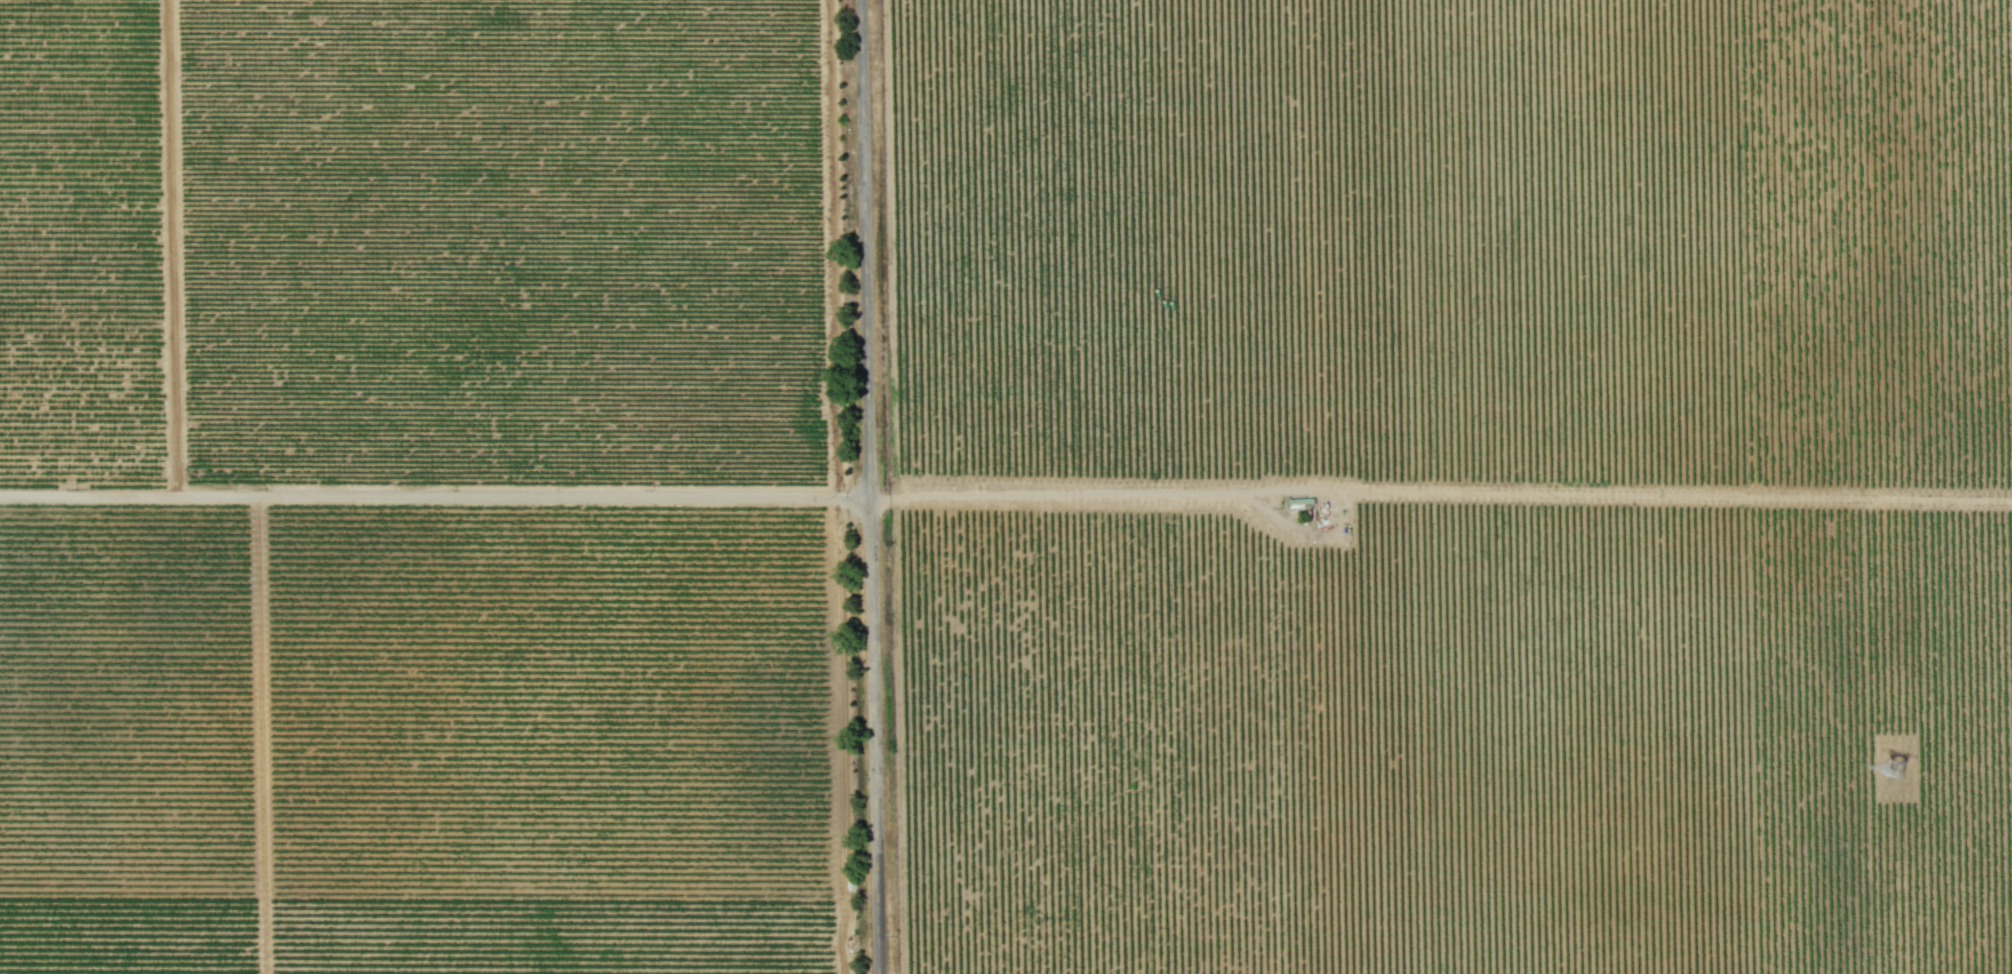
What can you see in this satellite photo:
road: (171, 248)
road: (829, 248)
road: (870, 487)
crop: (1006, 487)
road: (1057, 493)
road: (412, 495)
road: (847, 497)
power tower: (1900, 773)

